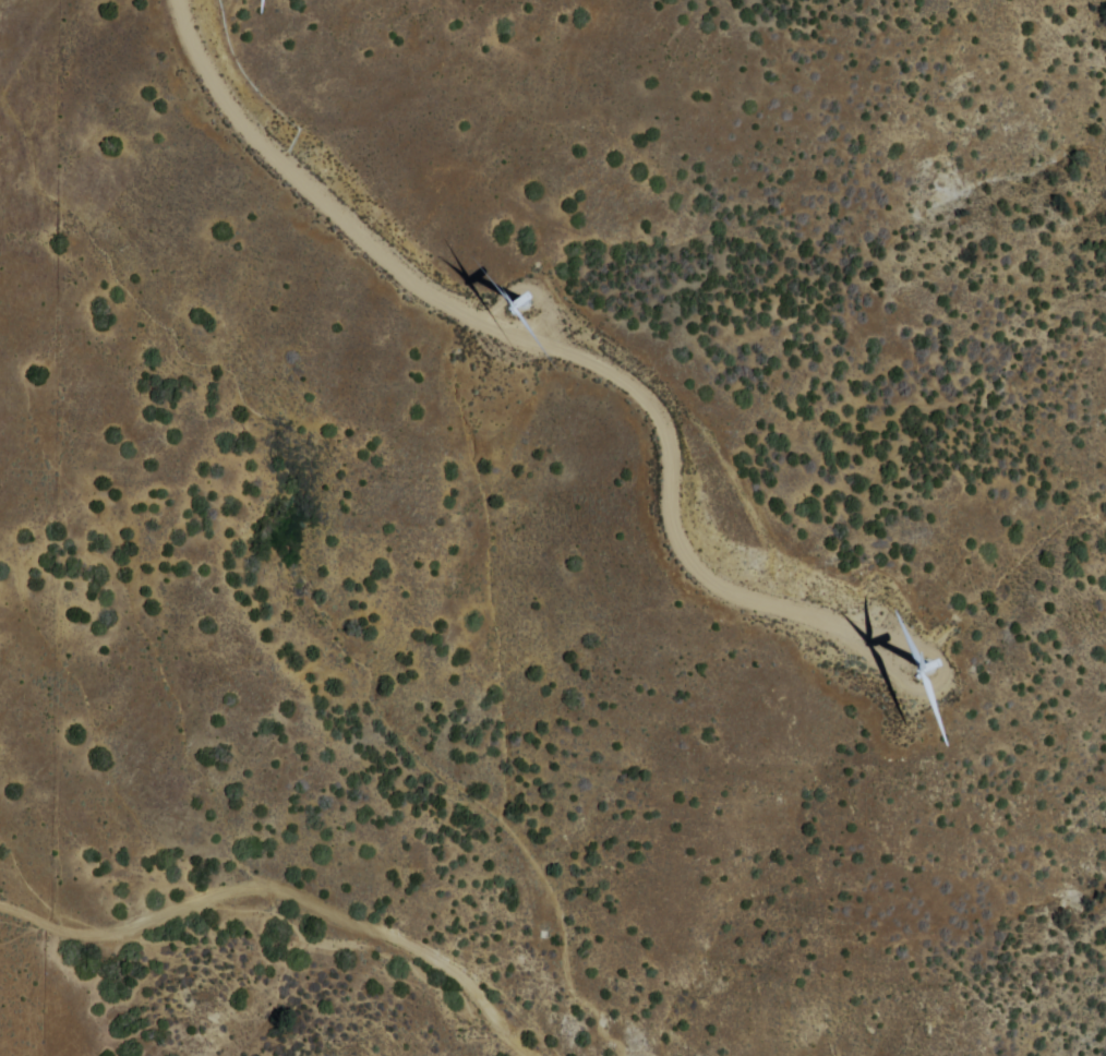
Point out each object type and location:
wind turbine: (551, 271)
road: (424, 281)
wind turbine: (922, 655)
road: (288, 888)

